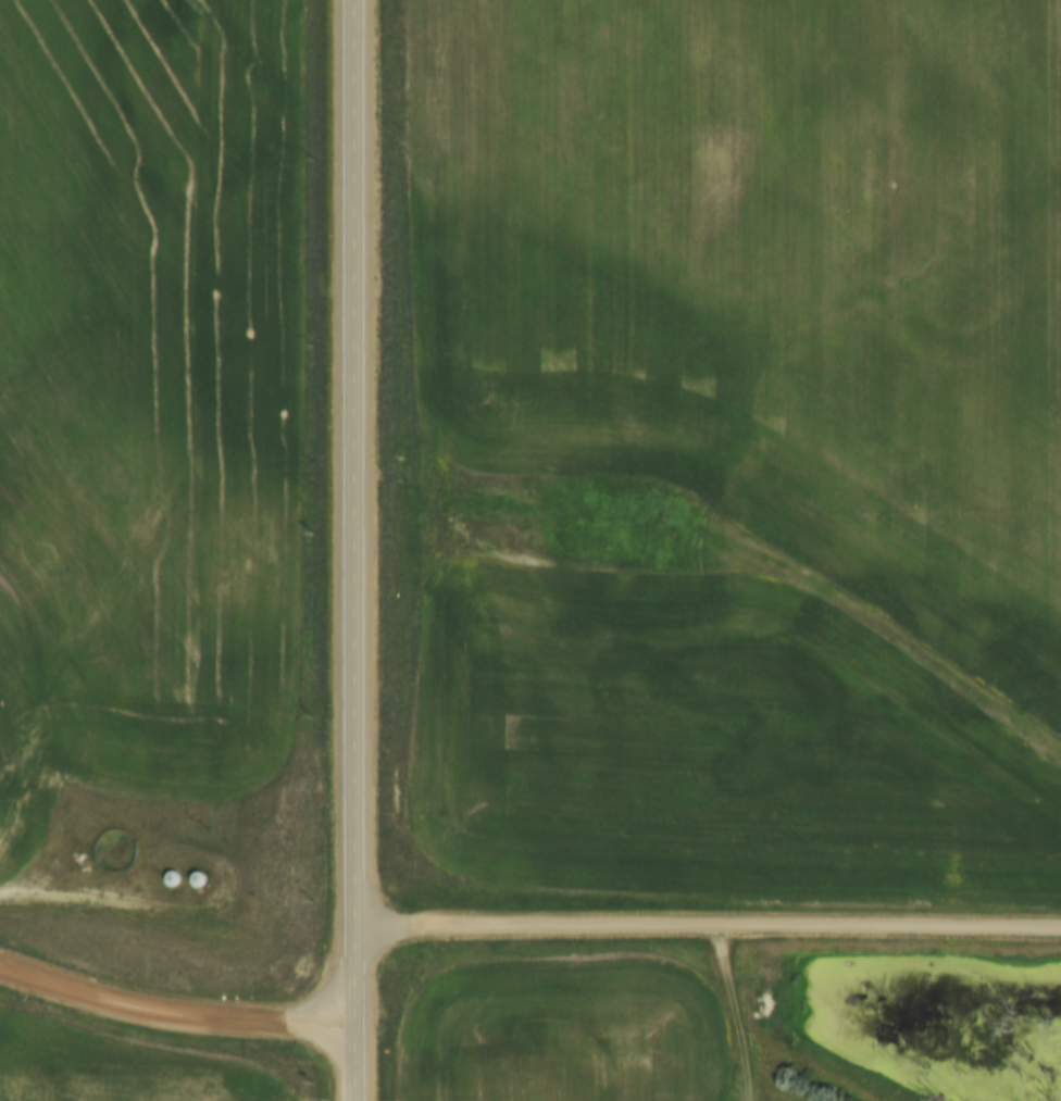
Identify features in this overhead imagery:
road: (355, 551)
building: (174, 880)
road: (76, 887)
road: (710, 930)
road: (176, 1004)

